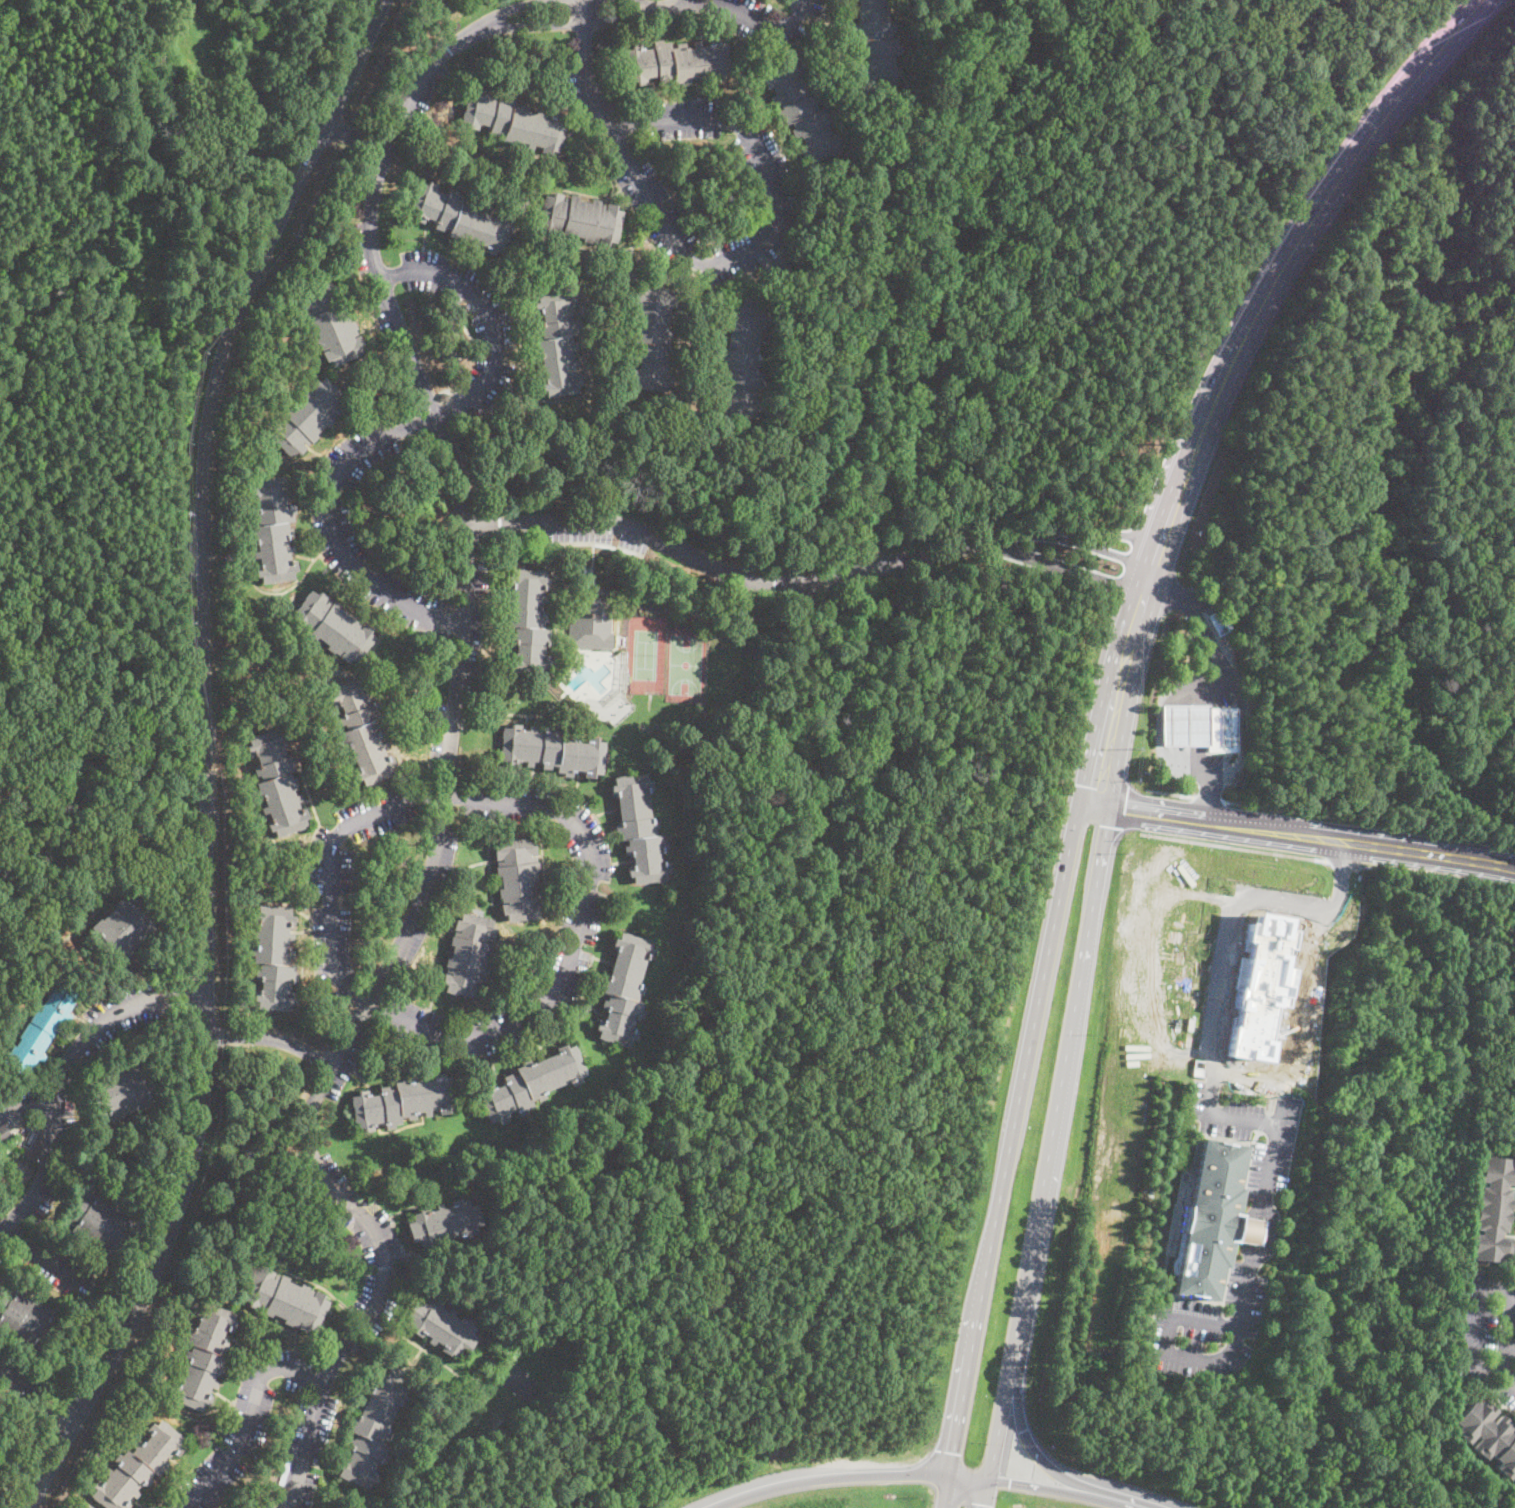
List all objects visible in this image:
road: (680, 2)
road: (647, 3)
road: (667, 5)
road: (508, 9)
road: (748, 15)
road: (568, 23)
building: (875, 43)
building: (677, 62)
road: (586, 68)
building: (800, 110)
building: (513, 121)
road: (356, 137)
building: (459, 218)
building: (578, 218)
road: (774, 227)
building: (787, 263)
building: (471, 304)
road: (489, 315)
building: (331, 323)
building: (652, 338)
building: (556, 343)
building: (742, 358)
road: (1227, 372)
building: (444, 396)
building: (306, 417)
road: (334, 526)
building: (272, 528)
road: (1120, 534)
road: (1073, 540)
road: (1067, 568)
road: (728, 571)
road: (1513, 574)
park: (82, 592)
building: (527, 621)
building: (1218, 622)
building: (591, 623)
road: (113, 624)
building: (333, 626)
building: (443, 636)
building: (1513, 678)
road: (1236, 692)
building: (1512, 693)
road: (1175, 716)
building: (1184, 725)
building: (361, 728)
building: (1222, 730)
building: (552, 750)
road: (204, 754)
road: (1100, 778)
road: (446, 779)
building: (276, 781)
traffic signals: (1096, 786)
road: (1171, 794)
road: (1209, 800)
road: (1131, 808)
traffic signals: (1125, 809)
road: (1370, 822)
traffic signals: (1105, 827)
building: (639, 829)
road: (1303, 837)
road: (1237, 847)
road: (330, 866)
road: (1342, 866)
road: (1434, 878)
building: (517, 879)
building: (122, 927)
road: (1227, 931)
road: (575, 940)
building: (468, 954)
building: (272, 956)
building: (623, 988)
building: (1258, 988)
road: (178, 992)
road: (179, 1001)
building: (41, 1028)
road: (274, 1036)
building: (531, 1083)
road: (1020, 1090)
road: (1210, 1090)
building: (122, 1091)
road: (1058, 1093)
building: (402, 1101)
road: (55, 1102)
road: (26, 1104)
building: (3, 1132)
road: (1262, 1177)
building: (1491, 1209)
building: (1205, 1218)
building: (102, 1222)
building: (443, 1223)
road: (1264, 1232)
road: (46, 1258)
parking lot: (54, 1264)
building: (284, 1299)
building: (24, 1318)
building: (440, 1326)
road: (1477, 1326)
road: (1506, 1340)
road: (1510, 1348)
building: (202, 1356)
building: (41, 1374)
road: (11, 1377)
road: (53, 1395)
road: (48, 1404)
road: (246, 1419)
building: (372, 1428)
building: (1488, 1435)
road: (955, 1446)
road: (995, 1446)
traffic signals: (954, 1452)
road: (1040, 1462)
building: (137, 1467)
road: (850, 1477)
building: (1513, 1482)
traffic signals: (1005, 1483)
road: (1071, 1493)
traffic signals: (986, 1506)

